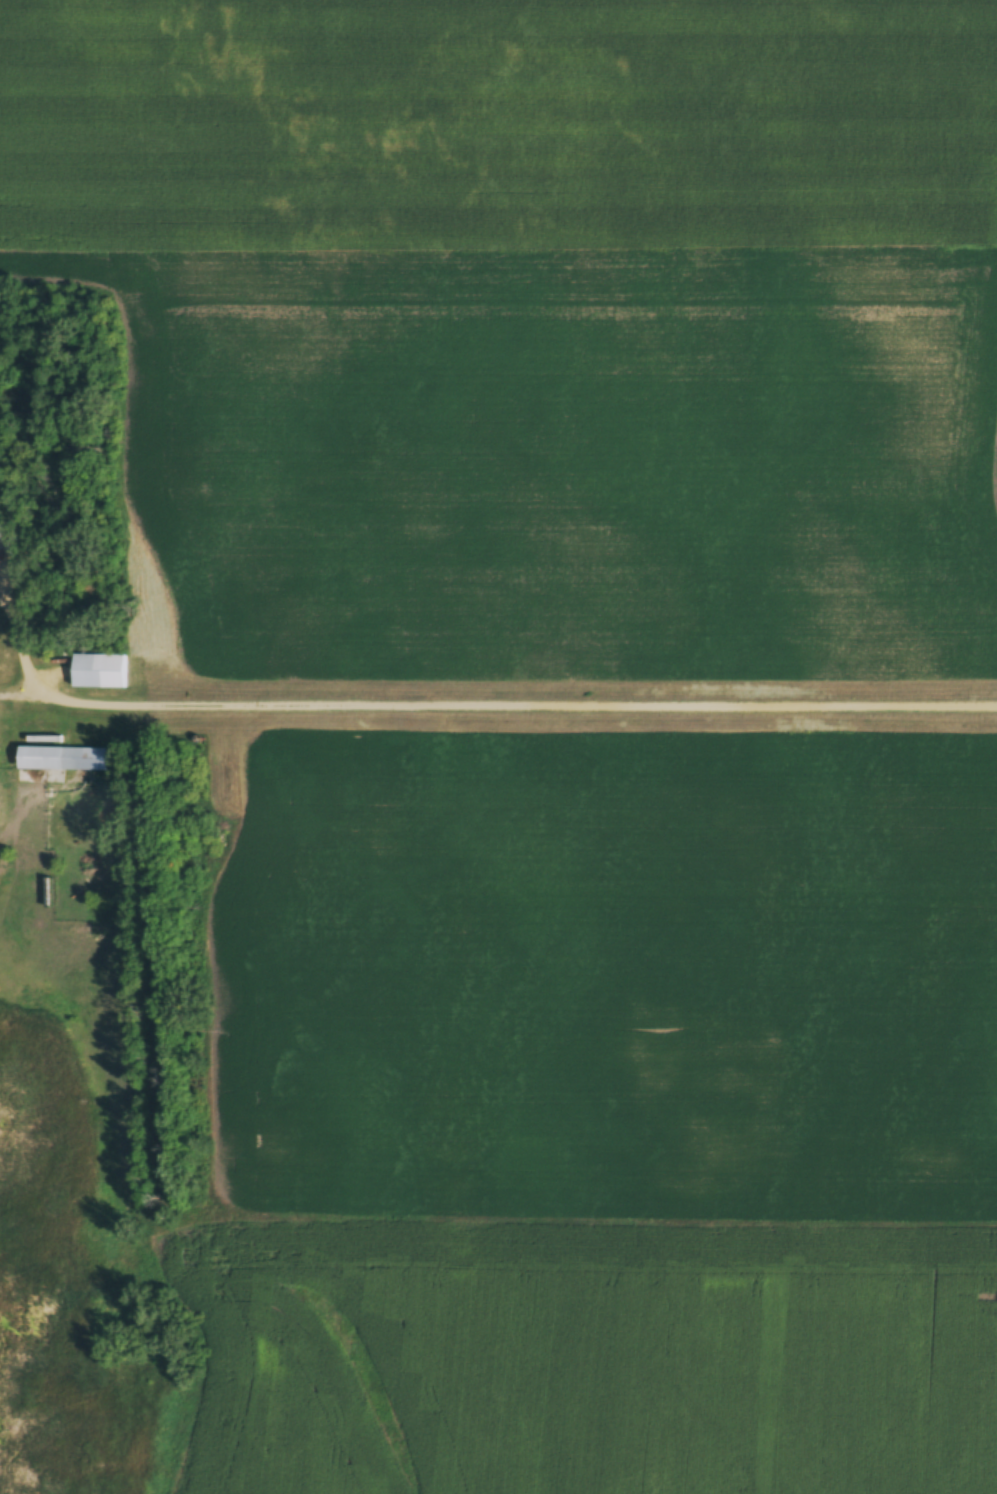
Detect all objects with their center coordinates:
building: (6, 532)
road: (33, 664)
building: (97, 678)
road: (522, 697)
building: (63, 761)

